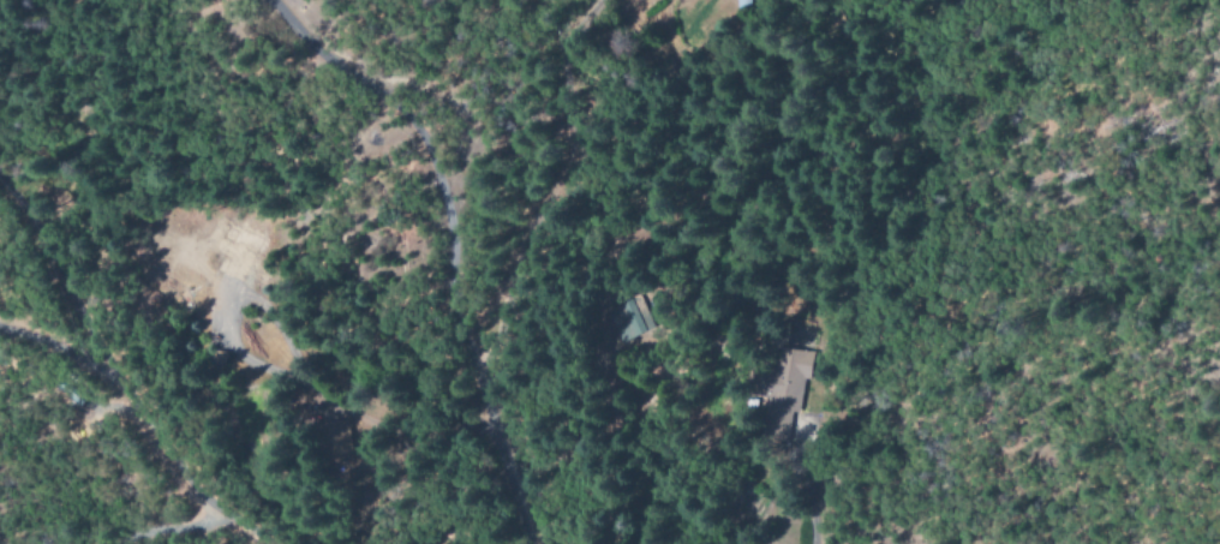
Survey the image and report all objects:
road: (451, 241)
building: (232, 273)
building: (624, 322)
road: (119, 373)
building: (785, 397)

